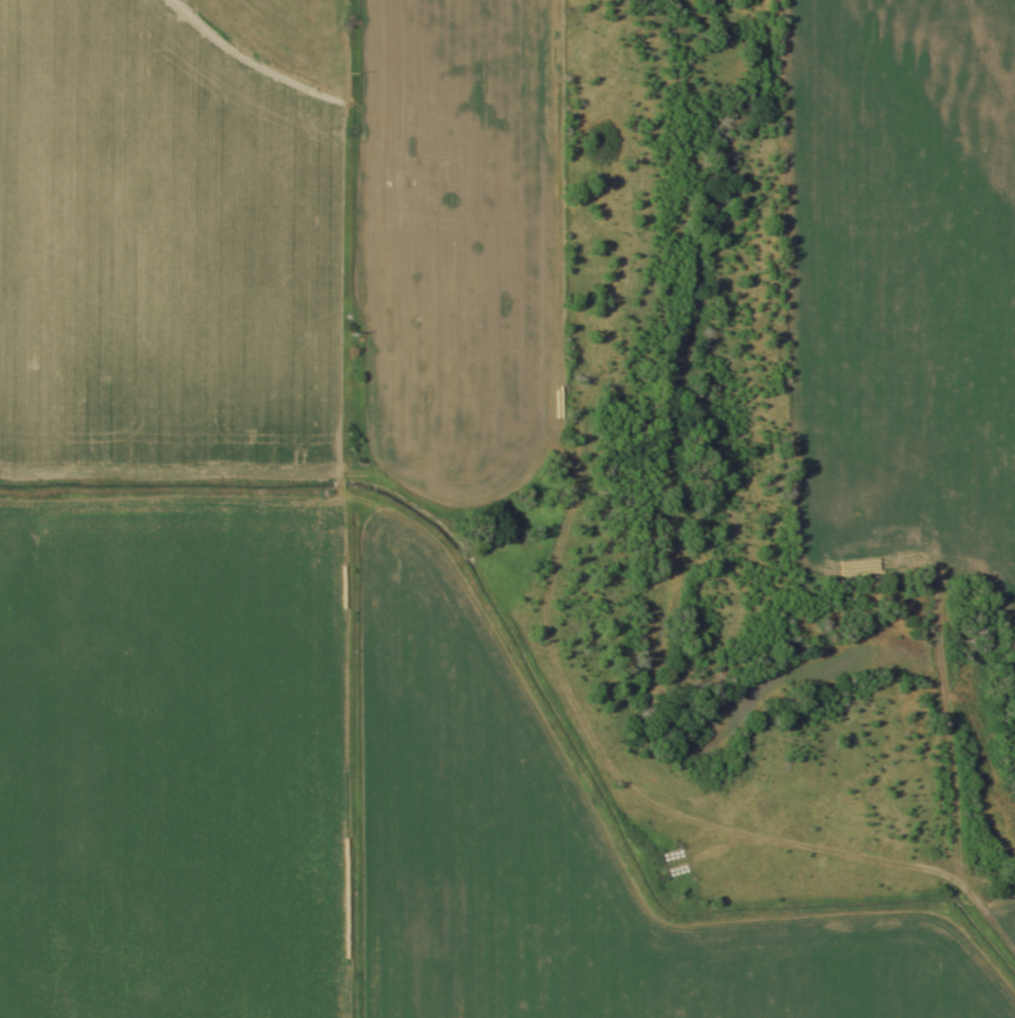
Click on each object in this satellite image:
crop: (165, 237)
crop: (899, 289)
road: (940, 701)
road: (616, 775)
crop: (345, 805)

